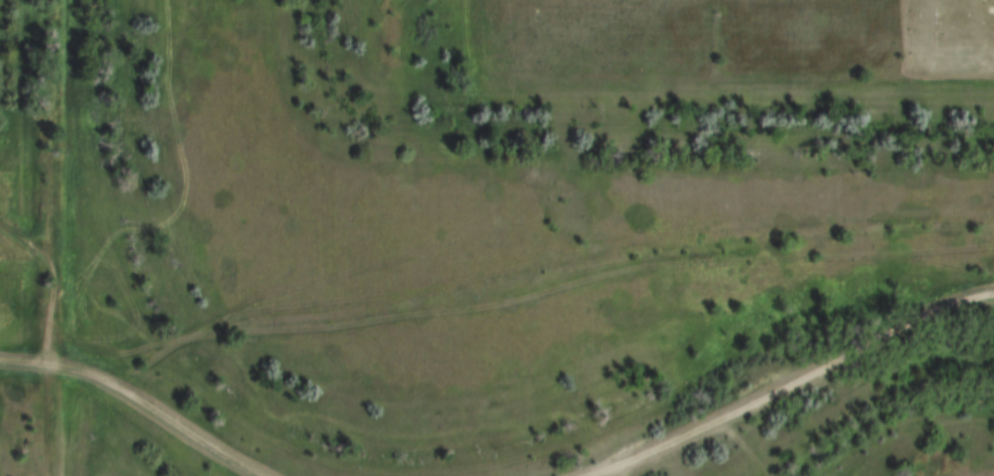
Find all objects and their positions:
road: (815, 394)
road: (149, 413)
road: (76, 416)

